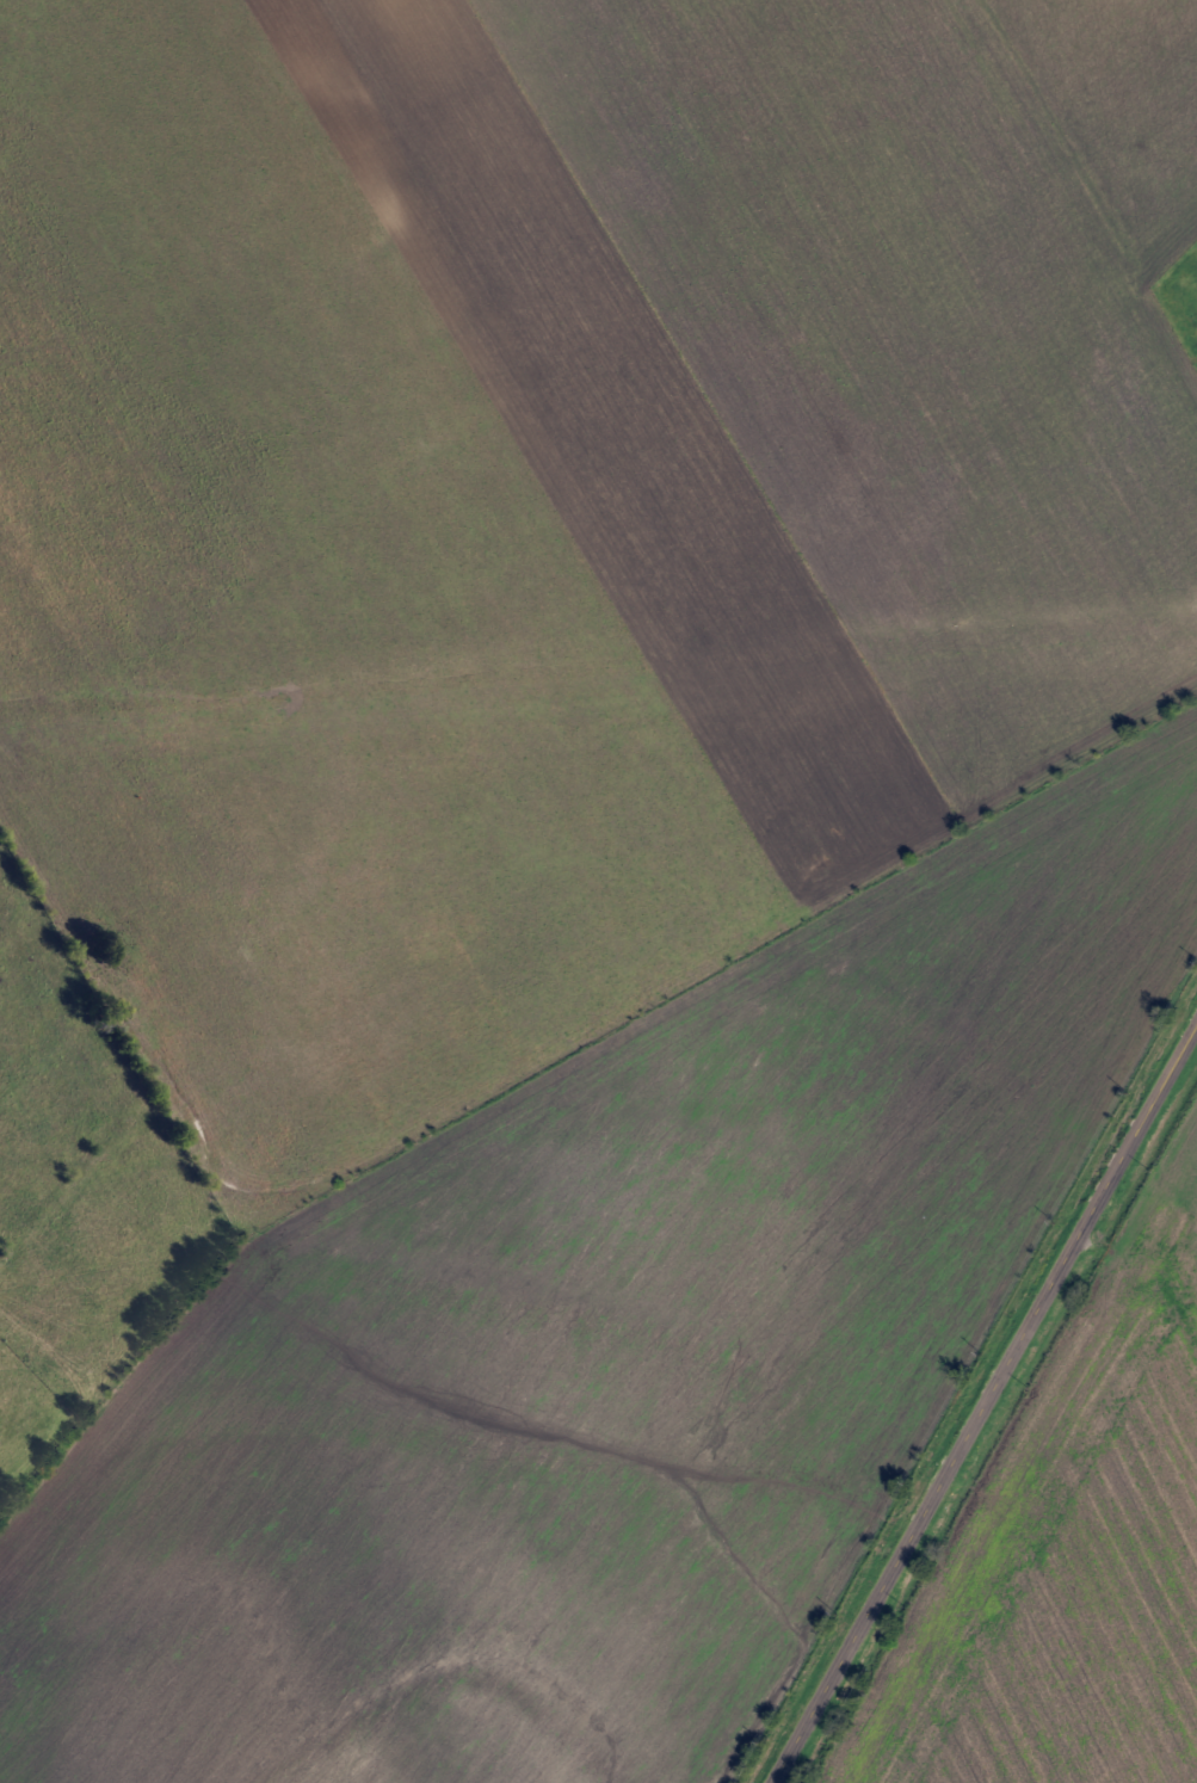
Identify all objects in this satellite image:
road: (981, 1399)

